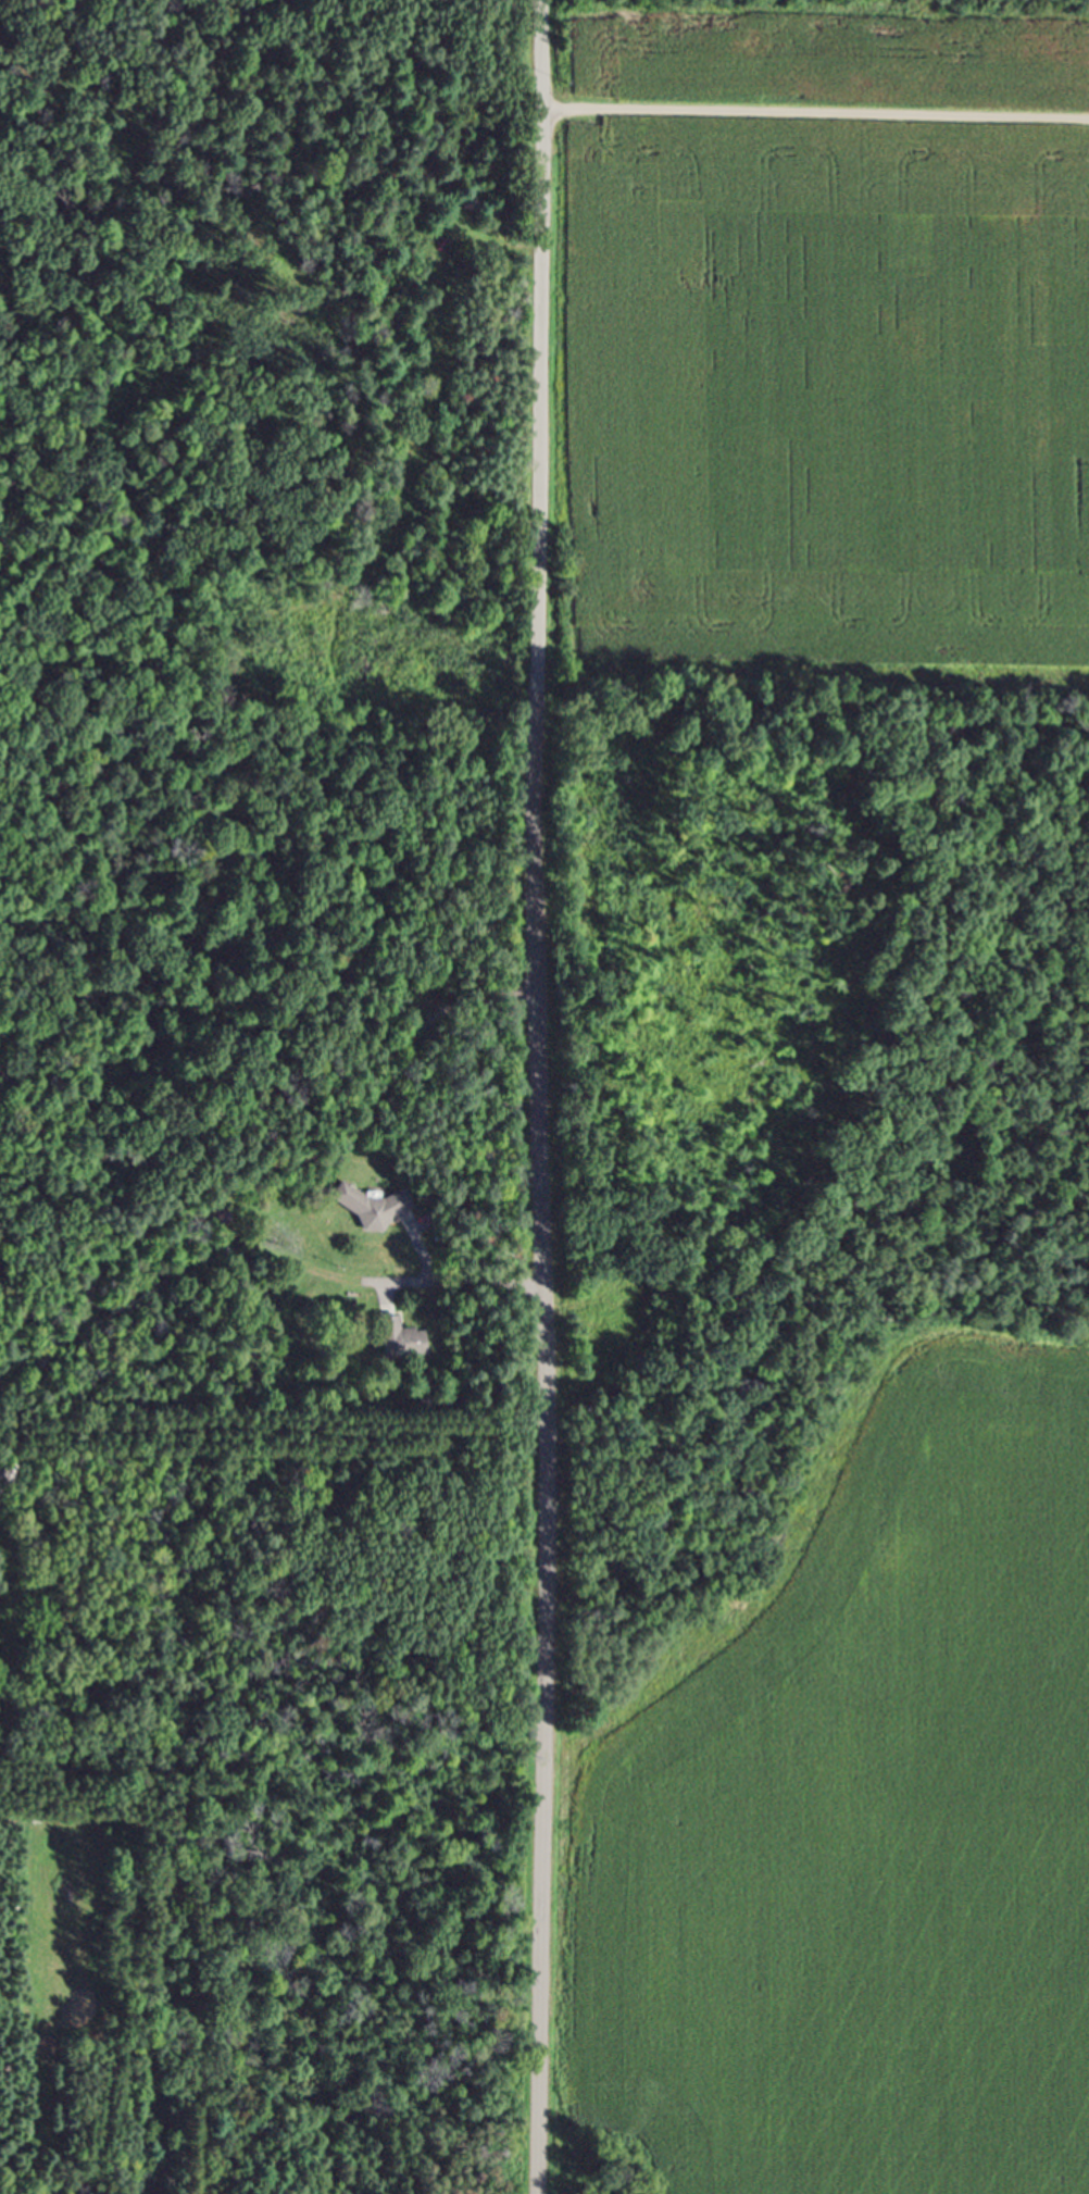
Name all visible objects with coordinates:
road: (816, 112)
road: (541, 1097)
road: (229, 1154)
building: (368, 1210)
building: (221, 1217)
road: (463, 1284)
building: (401, 1343)
building: (5, 1483)

